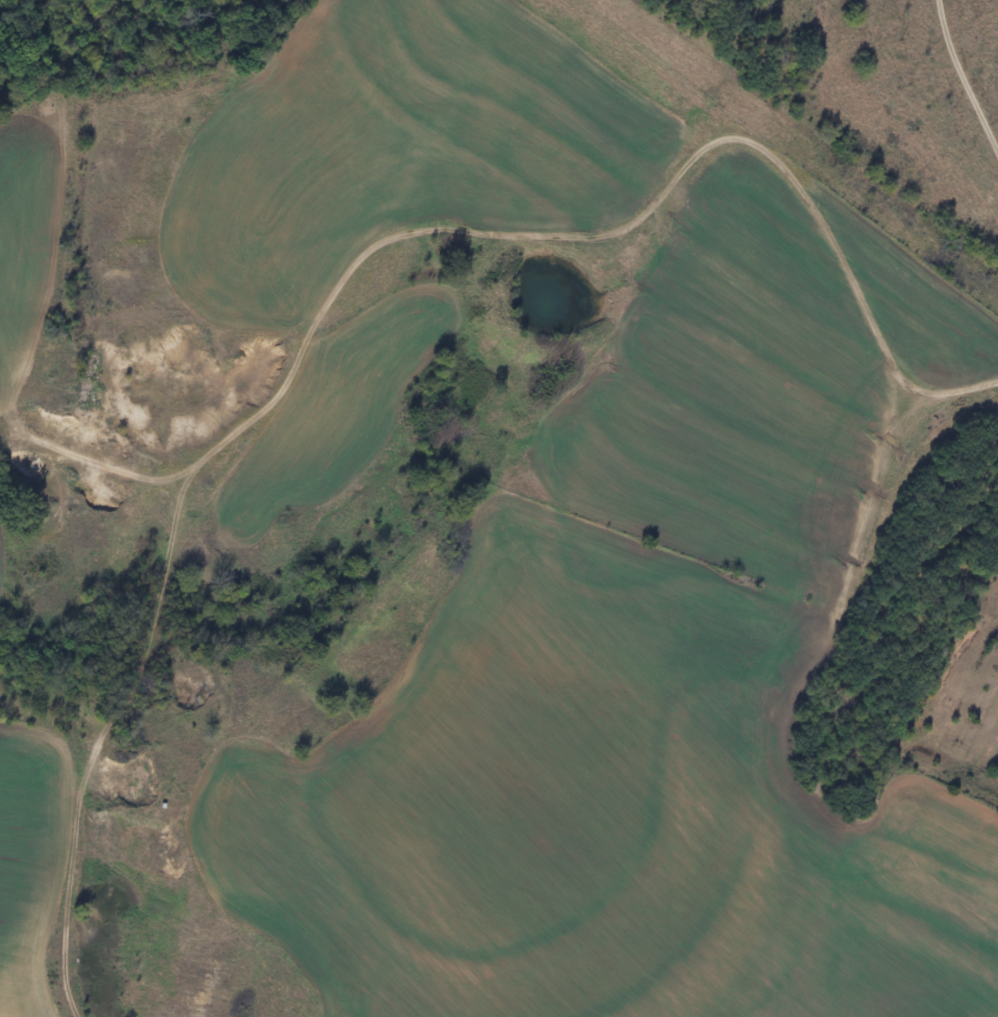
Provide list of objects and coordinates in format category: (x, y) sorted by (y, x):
road: (952, 81)

